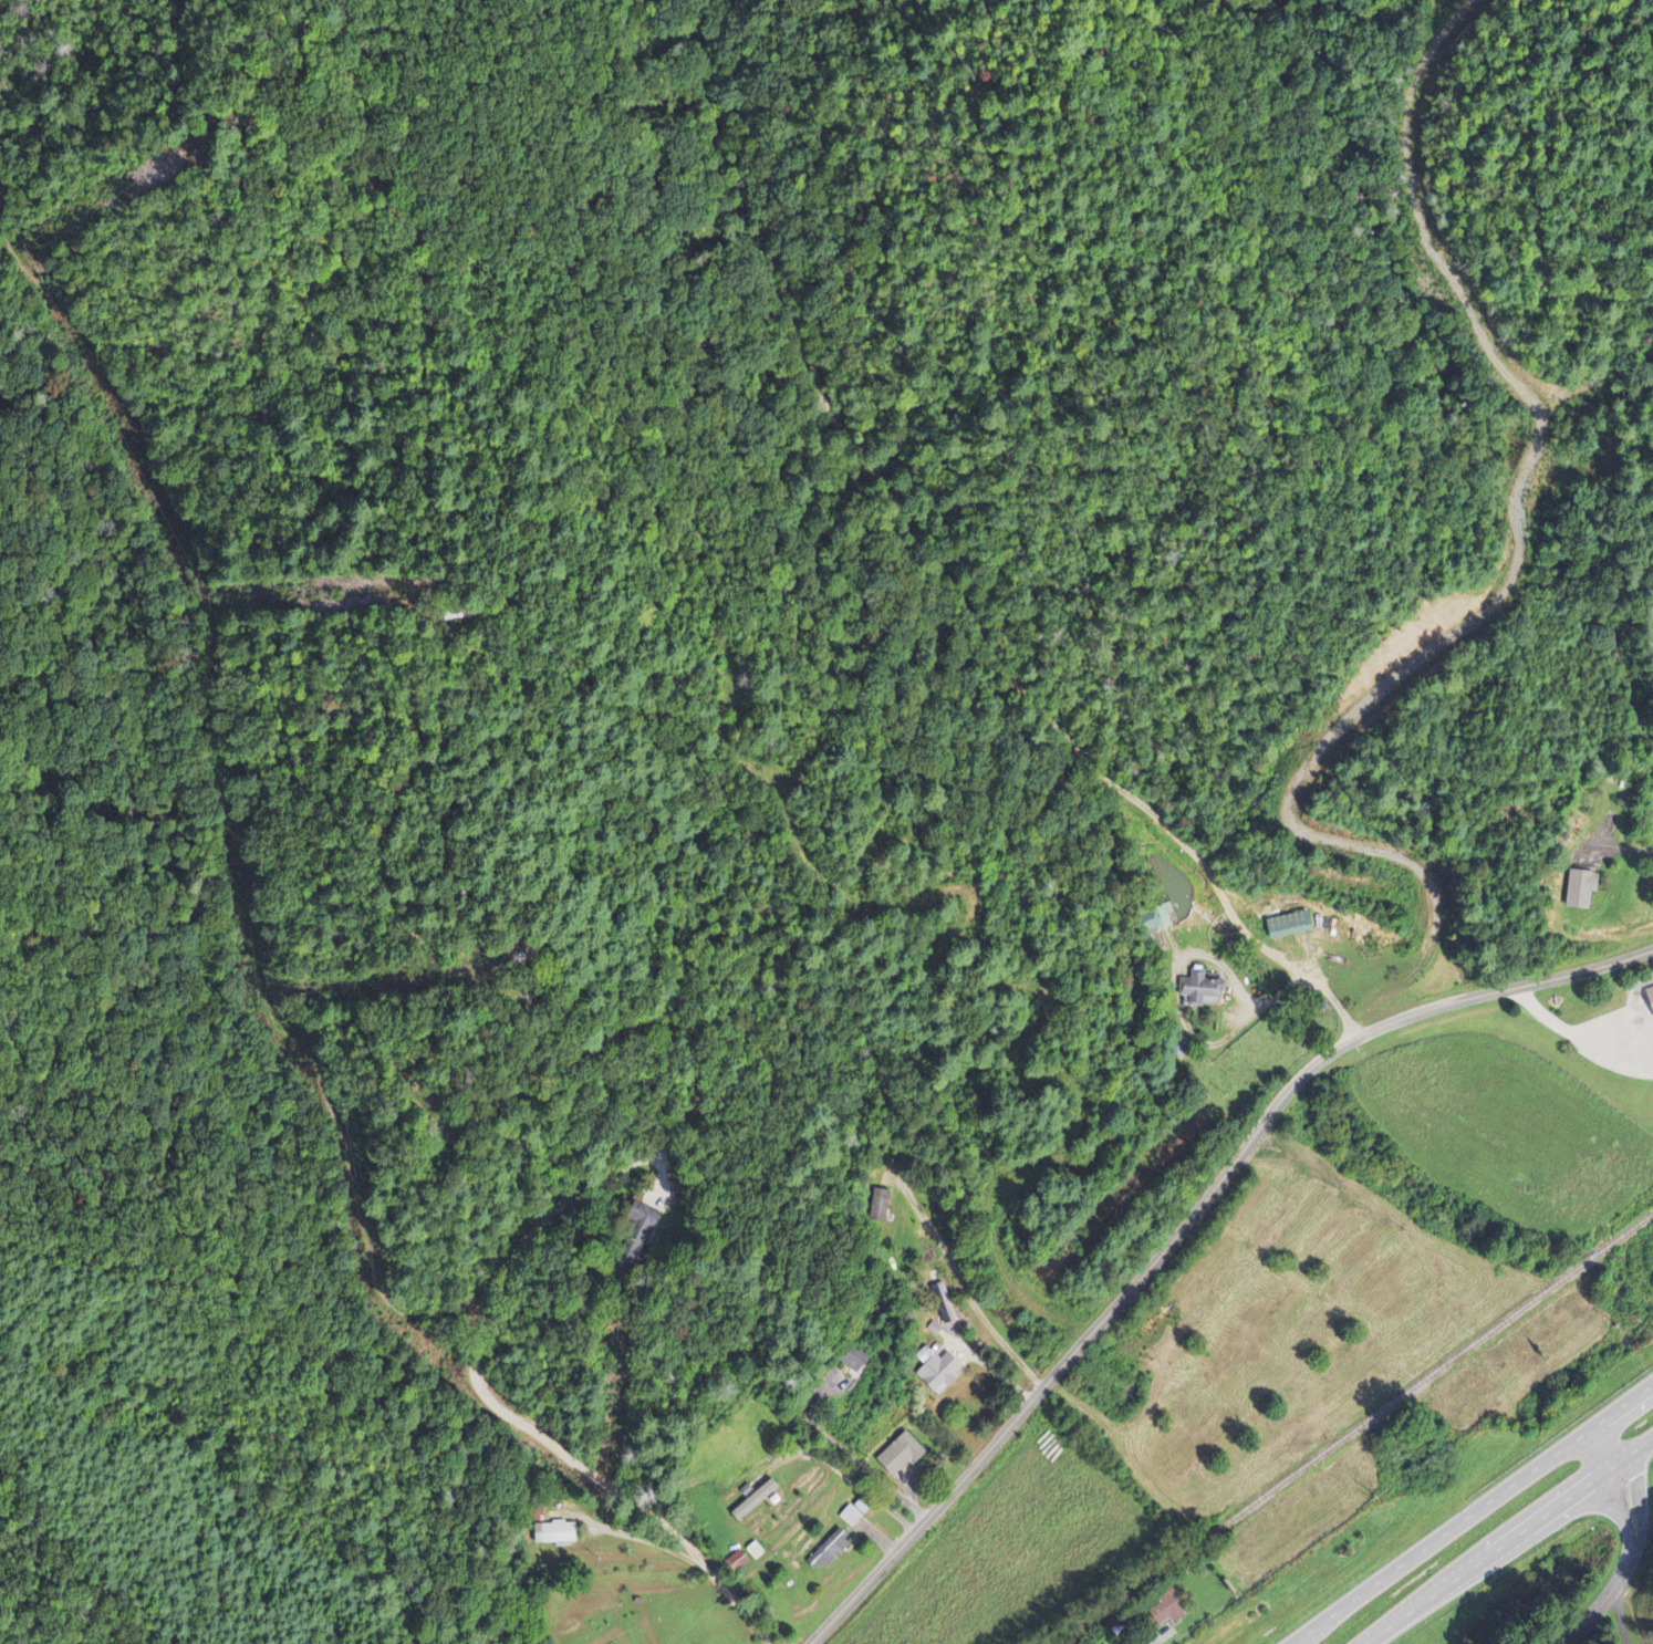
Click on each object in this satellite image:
road: (987, 606)
building: (1579, 889)
building: (1286, 926)
road: (405, 945)
building: (1649, 995)
building: (1213, 996)
road: (1640, 1030)
road: (1597, 1040)
road: (1579, 1042)
building: (877, 1206)
road: (1186, 1222)
building: (638, 1231)
road: (416, 1291)
building: (853, 1359)
building: (935, 1370)
railway: (1353, 1428)
building: (898, 1455)
building: (752, 1501)
road: (1469, 1513)
building: (850, 1517)
building: (553, 1533)
road: (1507, 1541)
road: (1632, 1541)
building: (825, 1552)
building: (734, 1564)
building: (1164, 1609)
road: (1154, 1641)

